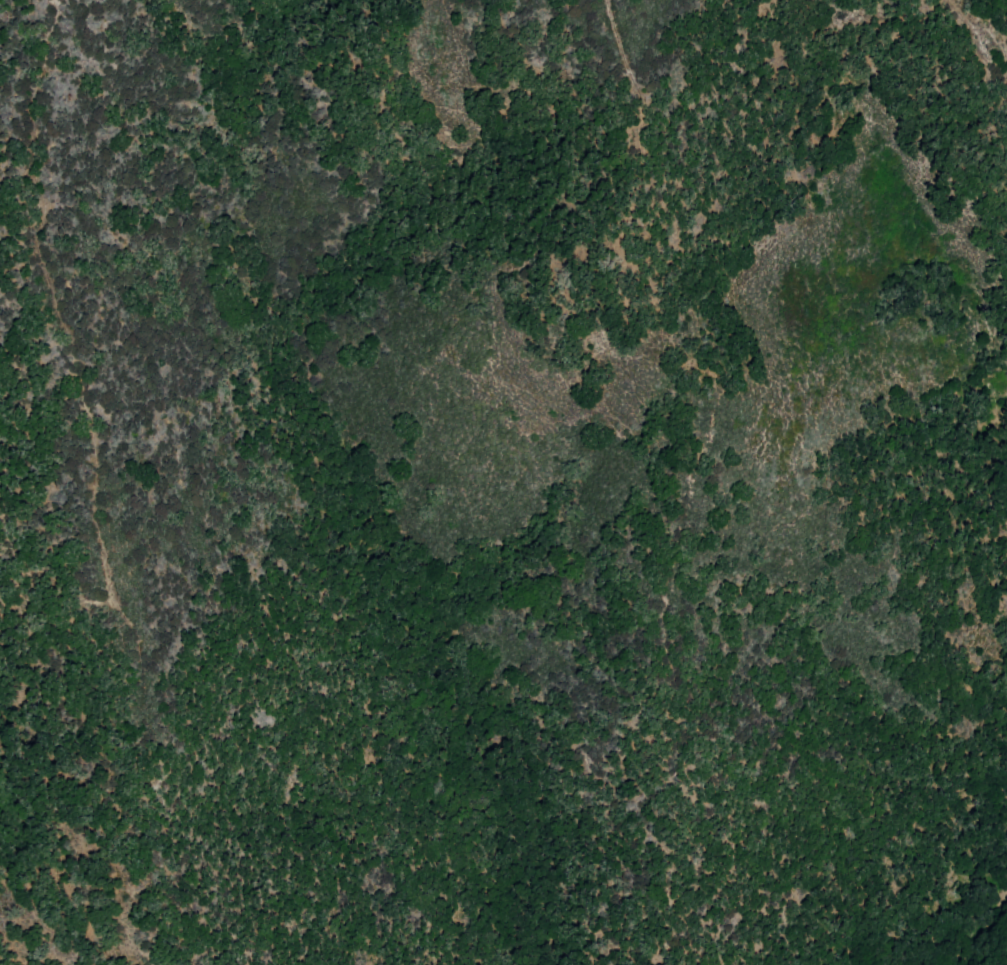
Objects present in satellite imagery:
road: (619, 50)

